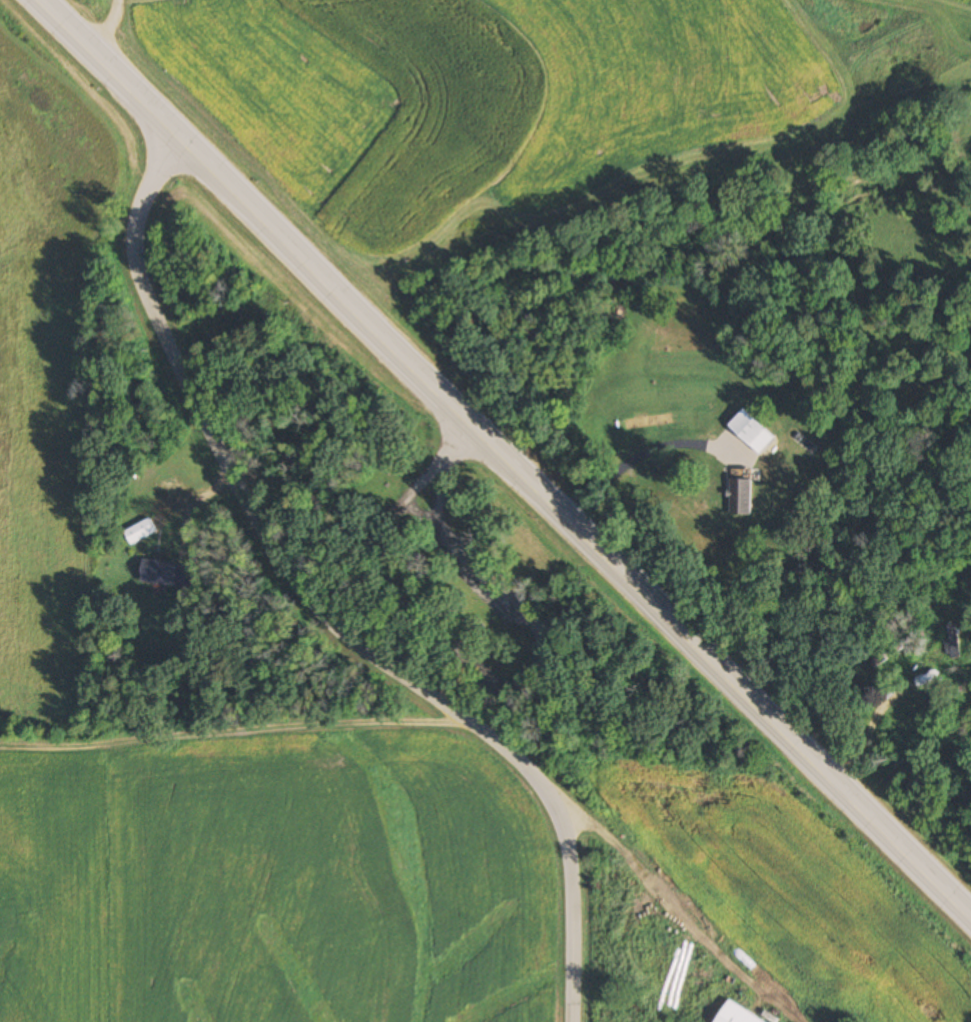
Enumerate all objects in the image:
road: (109, 25)
building: (751, 432)
road: (442, 457)
road: (504, 459)
road: (648, 460)
building: (740, 494)
building: (139, 531)
building: (167, 574)
road: (318, 608)
building: (952, 641)
building: (882, 657)
road: (538, 674)
road: (678, 915)
building: (734, 1015)

